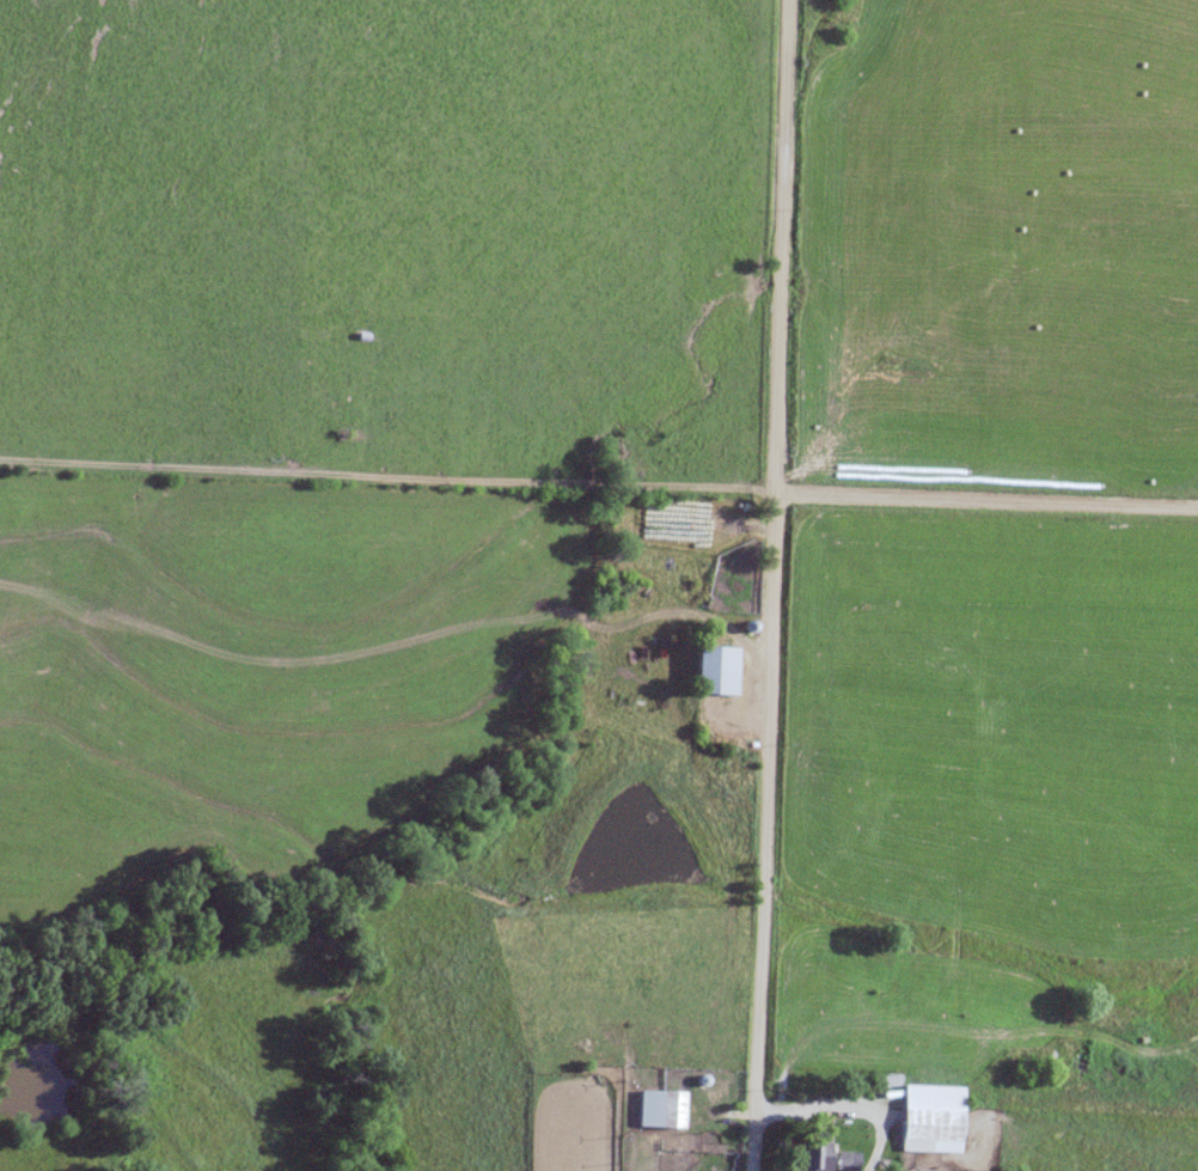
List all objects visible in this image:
road: (984, 505)
road: (769, 585)
building: (715, 671)
road: (839, 1106)
building: (660, 1110)
building: (929, 1129)
building: (815, 1157)

